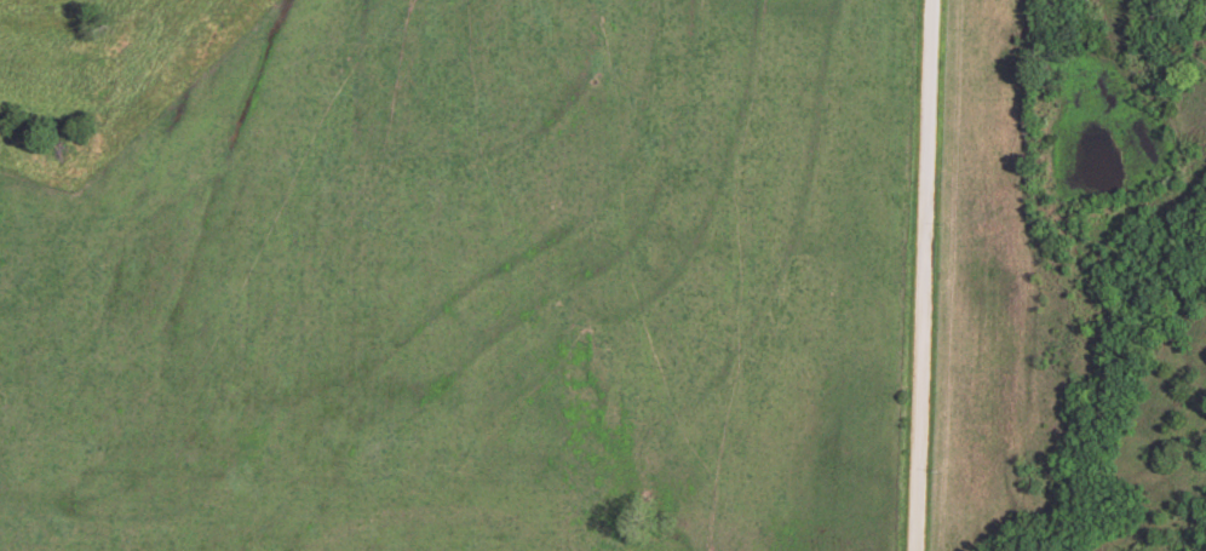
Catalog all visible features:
road: (928, 275)

